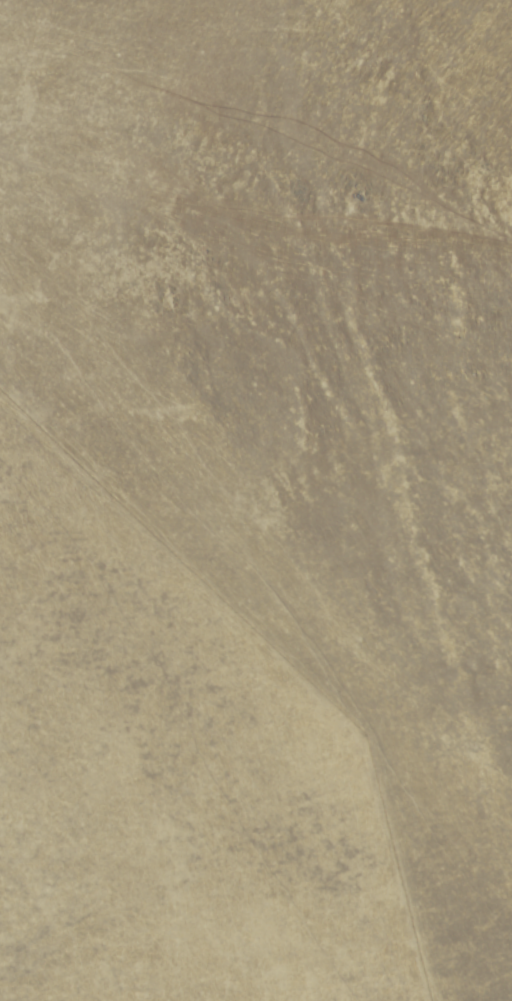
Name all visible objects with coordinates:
crop: (95, 228)
crop: (48, 915)

